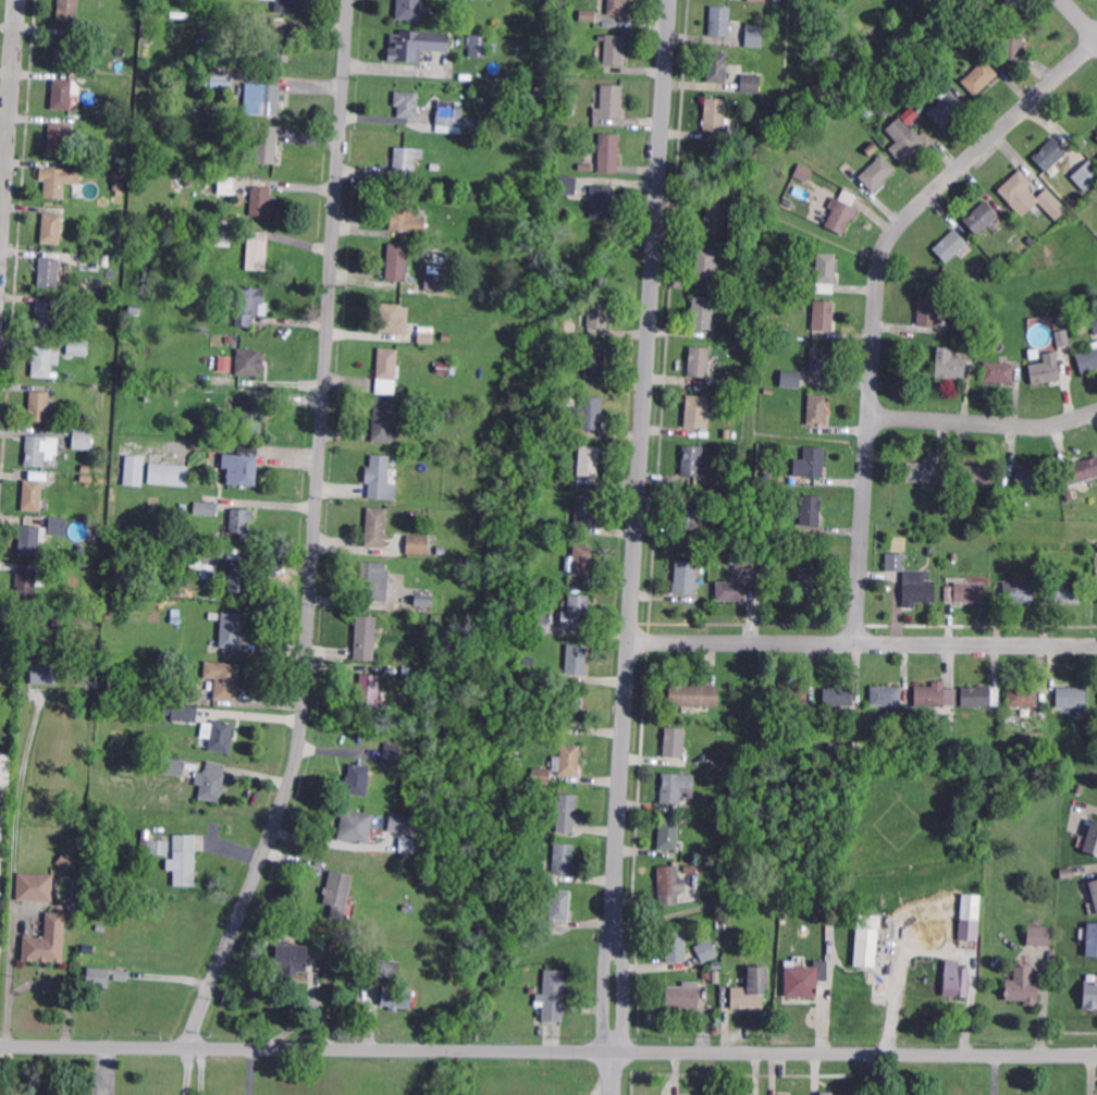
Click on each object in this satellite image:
building: (756, 0)
building: (782, 0)
building: (287, 7)
building: (617, 8)
building: (408, 10)
building: (66, 11)
building: (760, 12)
building: (587, 16)
building: (963, 16)
road: (1081, 17)
building: (719, 22)
building: (147, 23)
building: (1013, 36)
building: (754, 37)
building: (417, 46)
building: (272, 47)
building: (481, 47)
building: (64, 50)
building: (615, 50)
building: (717, 67)
building: (979, 77)
building: (81, 78)
building: (220, 82)
building: (751, 84)
building: (61, 95)
building: (535, 96)
building: (262, 99)
building: (609, 103)
building: (406, 104)
building: (566, 104)
building: (945, 108)
building: (867, 112)
building: (209, 115)
building: (714, 116)
building: (448, 121)
building: (188, 125)
building: (213, 125)
road: (9, 132)
building: (58, 139)
building: (902, 139)
building: (264, 144)
building: (872, 150)
building: (607, 153)
building: (1050, 157)
building: (406, 159)
building: (586, 168)
building: (801, 171)
building: (877, 173)
building: (115, 175)
building: (1086, 177)
building: (225, 184)
building: (53, 185)
building: (567, 186)
building: (811, 188)
building: (1030, 196)
building: (119, 201)
building: (601, 202)
building: (261, 204)
building: (568, 212)
building: (404, 214)
building: (716, 218)
building: (840, 218)
building: (983, 218)
building: (211, 222)
building: (748, 224)
building: (51, 230)
building: (116, 232)
building: (222, 237)
building: (736, 237)
building: (1033, 243)
building: (950, 245)
building: (258, 256)
building: (90, 260)
building: (396, 262)
building: (706, 266)
building: (825, 269)
building: (49, 274)
building: (738, 280)
building: (434, 282)
building: (790, 286)
road: (878, 296)
building: (88, 305)
building: (247, 306)
building: (126, 309)
building: (927, 311)
building: (597, 312)
building: (703, 313)
building: (824, 317)
building: (44, 318)
building: (393, 318)
building: (1062, 320)
building: (1094, 324)
building: (964, 330)
building: (426, 335)
building: (791, 335)
building: (445, 337)
building: (1061, 339)
building: (974, 345)
building: (72, 346)
building: (1020, 358)
building: (1087, 359)
building: (41, 361)
building: (223, 362)
building: (594, 362)
building: (699, 364)
building: (822, 364)
building: (247, 365)
building: (445, 367)
building: (951, 370)
building: (386, 371)
building: (998, 373)
building: (1046, 373)
building: (791, 381)
building: (728, 383)
building: (768, 392)
building: (38, 408)
building: (556, 411)
building: (818, 411)
building: (456, 413)
building: (697, 413)
building: (251, 414)
building: (590, 416)
building: (383, 421)
building: (82, 422)
road: (984, 422)
building: (727, 434)
building: (577, 438)
building: (83, 440)
building: (39, 451)
building: (716, 451)
building: (708, 452)
building: (589, 463)
building: (691, 463)
building: (810, 463)
building: (242, 466)
building: (137, 470)
building: (1078, 471)
building: (928, 473)
building: (171, 475)
building: (978, 478)
building: (379, 479)
building: (1031, 480)
building: (942, 490)
building: (574, 492)
building: (1003, 492)
building: (1069, 496)
building: (32, 497)
building: (962, 507)
building: (205, 510)
building: (584, 510)
building: (688, 513)
building: (811, 513)
building: (909, 518)
building: (241, 522)
building: (58, 527)
building: (375, 527)
road: (315, 532)
building: (30, 540)
building: (211, 542)
building: (417, 544)
road: (637, 546)
building: (704, 547)
building: (81, 551)
building: (442, 551)
building: (929, 552)
building: (769, 554)
building: (729, 557)
building: (954, 557)
building: (208, 558)
building: (744, 562)
building: (893, 562)
building: (582, 563)
building: (773, 578)
building: (686, 579)
building: (241, 581)
building: (29, 582)
building: (372, 582)
building: (808, 586)
building: (919, 589)
building: (533, 592)
building: (734, 592)
building: (969, 593)
building: (1019, 594)
building: (1068, 594)
building: (526, 599)
building: (423, 601)
building: (75, 603)
building: (577, 613)
building: (175, 620)
building: (535, 623)
building: (367, 630)
building: (231, 631)
building: (449, 640)
road: (863, 642)
building: (576, 661)
building: (162, 662)
building: (407, 672)
building: (531, 675)
building: (42, 676)
building: (224, 680)
building: (368, 694)
building: (178, 696)
building: (693, 697)
building: (791, 697)
building: (838, 697)
building: (886, 699)
building: (930, 699)
building: (979, 699)
building: (1071, 699)
building: (1024, 700)
building: (1008, 713)
building: (184, 714)
building: (572, 716)
building: (522, 717)
building: (682, 721)
building: (810, 726)
building: (221, 737)
building: (675, 745)
building: (830, 748)
building: (858, 748)
building: (517, 749)
building: (920, 750)
building: (392, 755)
building: (567, 761)
building: (715, 765)
building: (173, 767)
building: (4, 770)
building: (541, 776)
building: (211, 782)
building: (357, 783)
building: (676, 789)
building: (1081, 790)
building: (732, 798)
building: (131, 799)
building: (566, 816)
building: (399, 825)
building: (356, 826)
building: (668, 836)
building: (1092, 839)
building: (153, 847)
building: (563, 859)
building: (183, 861)
building: (63, 862)
building: (690, 871)
building: (728, 871)
building: (1067, 874)
building: (668, 883)
building: (36, 887)
building: (337, 894)
building: (1094, 894)
building: (75, 907)
building: (560, 908)
building: (405, 909)
building: (969, 918)
building: (101, 932)
building: (735, 932)
building: (1039, 936)
building: (866, 939)
building: (1092, 939)
building: (46, 945)
building: (675, 948)
building: (100, 949)
building: (705, 950)
building: (343, 951)
building: (291, 959)
building: (716, 967)
building: (389, 969)
building: (715, 975)
building: (704, 976)
building: (103, 977)
building: (805, 981)
building: (957, 984)
building: (1022, 986)
building: (751, 989)
building: (683, 996)
building: (1089, 996)
building: (396, 998)
building: (554, 998)
road: (548, 1049)
road: (187, 1070)
road: (249, 1071)
building: (828, 1093)
building: (745, 1094)

